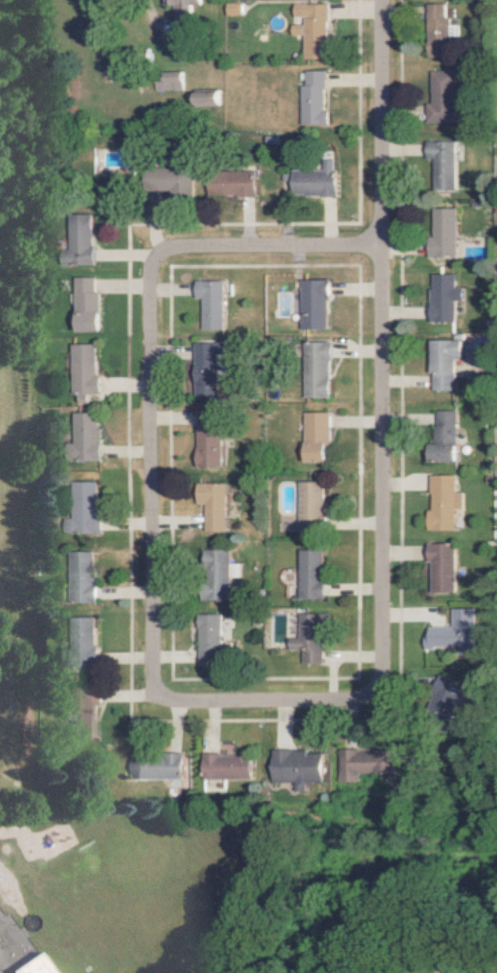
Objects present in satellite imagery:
building: (184, 5)
building: (235, 8)
building: (314, 28)
building: (438, 29)
building: (169, 81)
building: (209, 97)
building: (443, 97)
building: (314, 98)
building: (442, 162)
building: (176, 181)
building: (234, 183)
building: (314, 183)
building: (443, 232)
building: (83, 240)
road: (266, 248)
building: (443, 297)
building: (214, 303)
building: (315, 303)
building: (89, 305)
road: (379, 345)
building: (445, 362)
building: (210, 366)
building: (317, 368)
building: (87, 371)
building: (91, 435)
building: (444, 435)
building: (316, 436)
building: (212, 437)
road: (150, 478)
building: (440, 499)
building: (312, 502)
building: (215, 504)
building: (87, 508)
building: (223, 564)
building: (442, 567)
building: (311, 573)
building: (83, 576)
building: (455, 632)
building: (312, 636)
building: (211, 639)
building: (84, 644)
road: (268, 701)
building: (84, 710)
building: (369, 762)
building: (159, 766)
building: (230, 766)
building: (301, 767)
building: (10, 945)
building: (28, 965)

